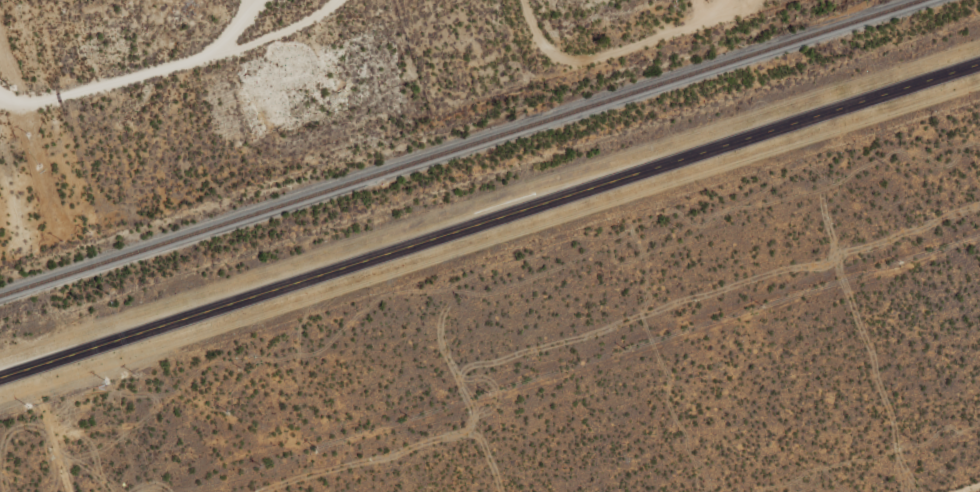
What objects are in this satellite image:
railway: (462, 148)
road: (489, 221)
road: (970, 488)

